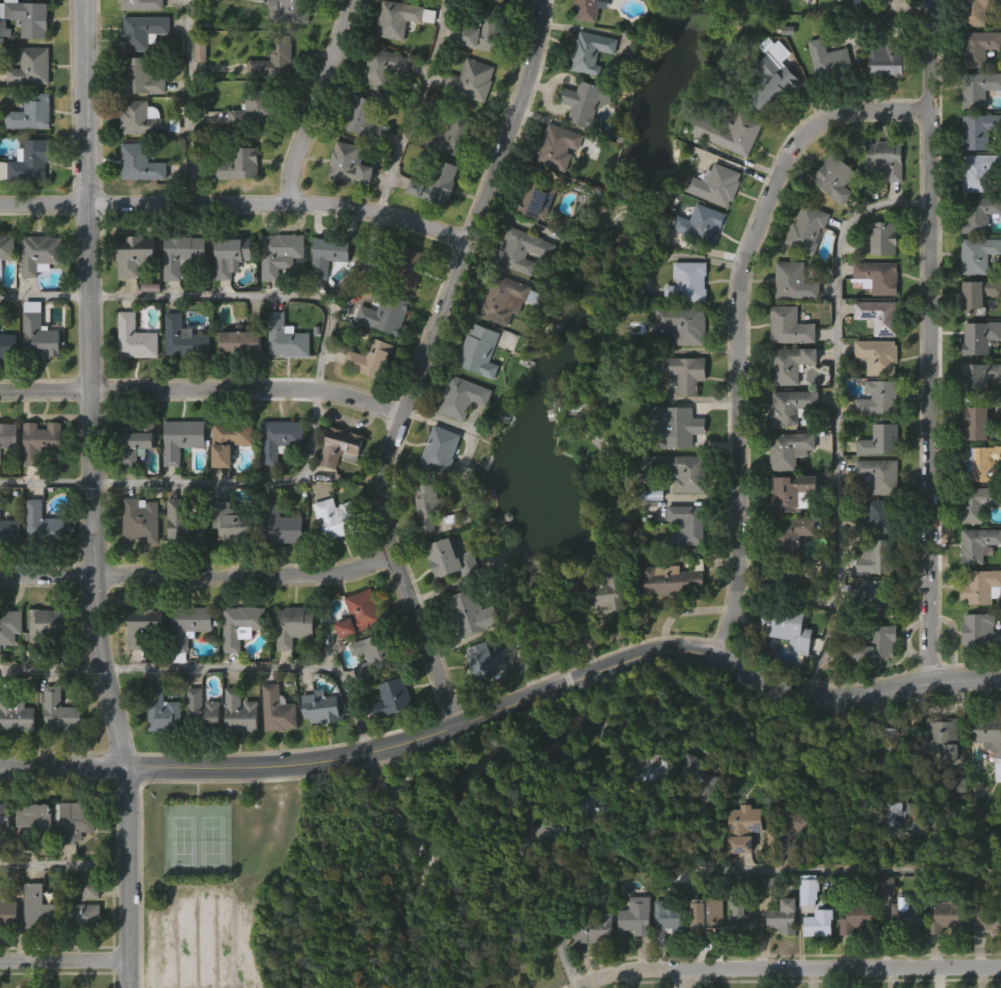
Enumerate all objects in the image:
building: (141, 4)
building: (692, 6)
building: (585, 10)
building: (289, 11)
building: (742, 13)
building: (788, 13)
building: (981, 13)
building: (881, 15)
building: (833, 16)
building: (28, 17)
building: (401, 18)
building: (141, 31)
building: (483, 31)
building: (587, 37)
building: (978, 46)
building: (591, 51)
building: (889, 54)
building: (274, 58)
building: (829, 61)
building: (382, 66)
building: (31, 67)
building: (774, 74)
building: (139, 76)
building: (472, 79)
building: (979, 87)
building: (197, 93)
building: (270, 100)
building: (824, 100)
road: (190, 102)
road: (320, 102)
building: (881, 102)
building: (586, 103)
building: (379, 107)
road: (415, 107)
building: (254, 110)
building: (30, 112)
building: (769, 115)
building: (364, 118)
building: (144, 119)
building: (467, 121)
building: (979, 130)
building: (731, 132)
building: (455, 135)
building: (581, 142)
building: (557, 146)
building: (886, 159)
building: (29, 161)
building: (141, 163)
building: (238, 164)
building: (349, 164)
building: (979, 171)
building: (726, 174)
building: (835, 178)
building: (436, 183)
building: (717, 185)
building: (552, 187)
building: (536, 200)
building: (881, 200)
building: (27, 201)
building: (136, 203)
road: (238, 204)
building: (346, 204)
building: (235, 205)
building: (979, 214)
building: (831, 218)
building: (433, 223)
building: (701, 224)
building: (807, 228)
building: (884, 238)
building: (6, 250)
building: (522, 250)
building: (39, 254)
building: (135, 254)
building: (181, 254)
building: (230, 254)
building: (279, 254)
building: (332, 254)
building: (978, 255)
building: (398, 261)
building: (697, 264)
building: (803, 269)
building: (878, 277)
building: (795, 281)
building: (688, 283)
building: (5, 287)
building: (36, 293)
building: (276, 294)
building: (325, 294)
road: (45, 295)
building: (130, 295)
building: (178, 295)
building: (227, 295)
building: (979, 295)
road: (253, 297)
building: (504, 298)
building: (406, 308)
building: (385, 313)
building: (879, 315)
road: (741, 323)
building: (683, 324)
building: (790, 326)
building: (40, 333)
building: (135, 337)
building: (286, 337)
building: (980, 337)
road: (933, 338)
building: (184, 339)
building: (243, 339)
building: (499, 339)
building: (7, 345)
building: (480, 351)
building: (878, 356)
building: (370, 359)
road: (424, 362)
building: (791, 364)
building: (685, 373)
building: (35, 374)
building: (131, 378)
building: (180, 378)
building: (282, 378)
building: (978, 378)
building: (236, 382)
building: (6, 385)
building: (475, 390)
road: (203, 391)
building: (462, 397)
building: (366, 398)
building: (879, 399)
building: (791, 407)
road: (837, 411)
building: (975, 423)
building: (673, 426)
building: (8, 435)
building: (458, 437)
building: (181, 438)
building: (235, 439)
building: (280, 440)
building: (880, 441)
building: (40, 443)
building: (135, 443)
building: (340, 447)
building: (789, 449)
building: (440, 450)
building: (979, 463)
building: (678, 471)
building: (879, 475)
building: (6, 476)
building: (178, 478)
building: (276, 479)
building: (38, 481)
building: (225, 481)
building: (131, 482)
road: (242, 482)
road: (46, 484)
building: (336, 486)
building: (799, 491)
road: (93, 495)
building: (978, 503)
building: (429, 506)
building: (879, 518)
building: (140, 519)
building: (336, 519)
building: (233, 522)
building: (41, 523)
building: (183, 524)
building: (281, 524)
building: (687, 525)
building: (9, 531)
building: (649, 535)
building: (790, 536)
building: (979, 545)
building: (423, 546)
building: (878, 553)
building: (331, 558)
building: (137, 559)
building: (452, 559)
building: (230, 560)
building: (179, 561)
building: (276, 563)
building: (38, 564)
building: (683, 565)
building: (8, 571)
road: (199, 576)
building: (674, 579)
building: (794, 581)
building: (982, 587)
building: (607, 593)
building: (876, 594)
building: (447, 600)
building: (360, 614)
building: (471, 614)
building: (667, 620)
building: (9, 626)
building: (189, 626)
building: (241, 626)
building: (294, 626)
building: (45, 627)
building: (145, 627)
building: (787, 628)
building: (981, 631)
building: (599, 633)
building: (873, 645)
building: (356, 652)
building: (376, 653)
building: (466, 654)
building: (491, 659)
building: (39, 664)
building: (236, 664)
road: (51, 665)
building: (185, 665)
road: (266, 665)
building: (290, 665)
building: (8, 666)
building: (976, 669)
building: (783, 670)
building: (872, 684)
building: (364, 695)
building: (175, 697)
building: (393, 699)
building: (485, 699)
building: (323, 707)
road: (506, 707)
building: (280, 708)
building: (61, 711)
building: (163, 712)
building: (201, 713)
building: (241, 713)
building: (14, 714)
building: (943, 736)
building: (388, 738)
building: (987, 738)
building: (892, 739)
building: (318, 747)
building: (198, 750)
building: (274, 750)
building: (56, 751)
building: (159, 751)
building: (236, 752)
building: (15, 757)
building: (734, 757)
building: (651, 768)
building: (698, 777)
building: (937, 777)
building: (988, 783)
building: (687, 802)
building: (644, 804)
building: (37, 816)
building: (4, 817)
building: (899, 817)
building: (585, 818)
building: (77, 822)
building: (793, 822)
building: (544, 826)
building: (748, 828)
building: (699, 833)
park: (186, 840)
park: (214, 840)
building: (588, 844)
building: (31, 855)
building: (3, 856)
building: (889, 856)
road: (64, 858)
building: (70, 861)
building: (791, 866)
building: (739, 867)
road: (852, 867)
building: (540, 872)
park: (318, 887)
building: (40, 907)
building: (8, 909)
building: (947, 913)
building: (81, 915)
building: (636, 915)
building: (784, 916)
building: (859, 916)
building: (710, 917)
building: (743, 917)
building: (907, 917)
building: (673, 918)
building: (987, 919)
building: (819, 922)
road: (557, 923)
building: (882, 925)
building: (594, 928)
building: (86, 929)
building: (804, 932)
building: (35, 948)
building: (703, 952)
building: (7, 953)
building: (79, 953)
building: (632, 955)
building: (665, 955)
building: (779, 956)
building: (941, 956)
building: (853, 957)
building: (737, 958)
building: (901, 958)
road: (65, 959)
building: (984, 961)
building: (814, 963)
road: (787, 966)
building: (590, 969)
road: (685, 977)
road: (594, 984)

